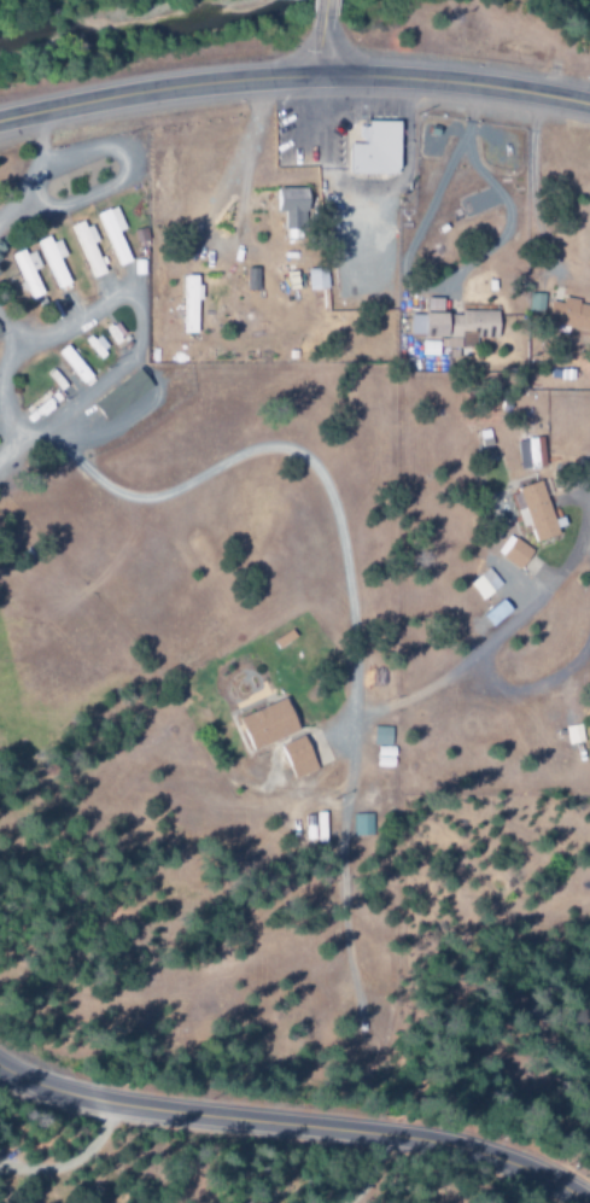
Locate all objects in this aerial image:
road: (321, 12)
road: (317, 49)
road: (293, 76)
building: (369, 150)
building: (284, 200)
building: (113, 234)
building: (87, 247)
building: (53, 261)
building: (25, 274)
building: (311, 279)
building: (185, 305)
building: (566, 315)
building: (423, 320)
building: (467, 325)
building: (118, 396)
building: (526, 455)
road: (585, 494)
building: (527, 512)
building: (508, 551)
building: (480, 584)
building: (261, 725)
building: (569, 735)
building: (376, 736)
building: (292, 758)
building: (358, 825)
road: (297, 1125)
road: (71, 1162)
road: (379, 1170)

